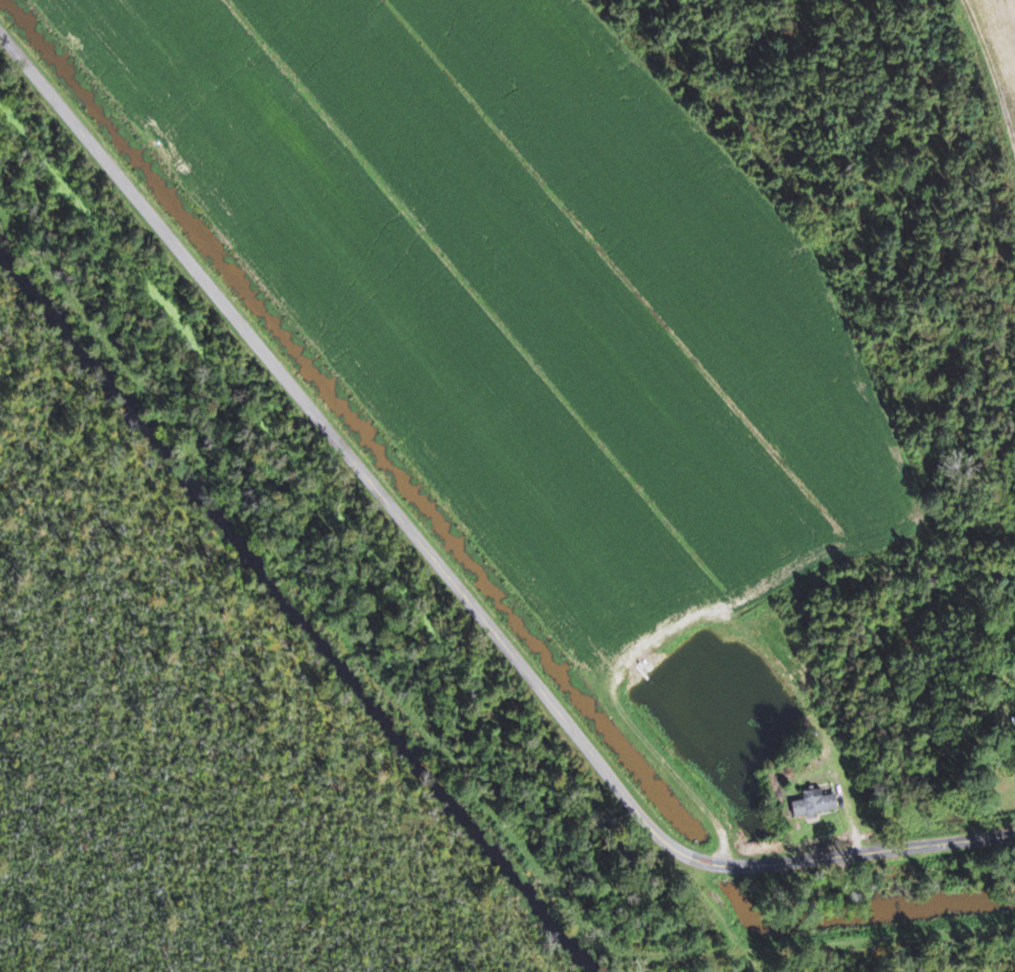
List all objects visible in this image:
crop: (993, 73)
crop: (534, 290)
road: (446, 579)
building: (810, 802)

